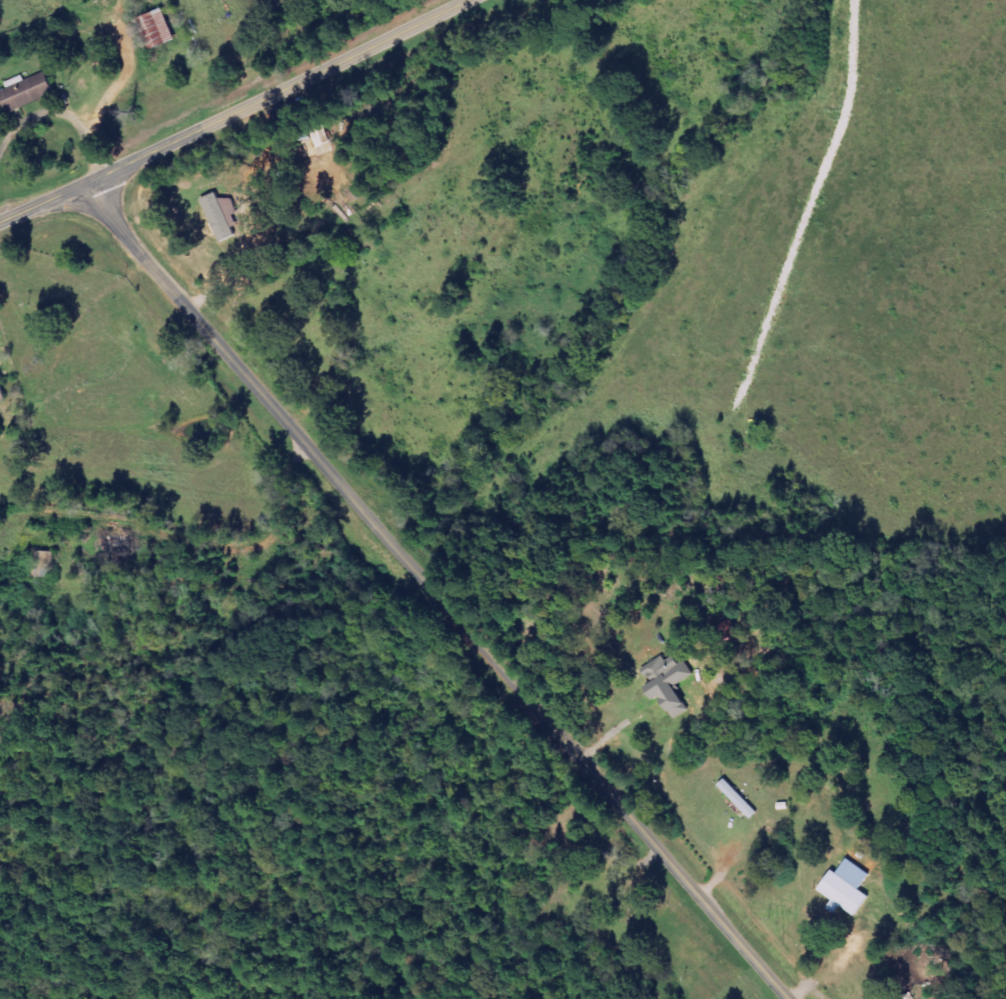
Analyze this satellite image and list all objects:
building: (156, 29)
building: (24, 92)
road: (233, 111)
road: (59, 113)
building: (219, 216)
building: (1, 394)
building: (43, 565)
road: (433, 593)
building: (667, 684)
building: (845, 888)

